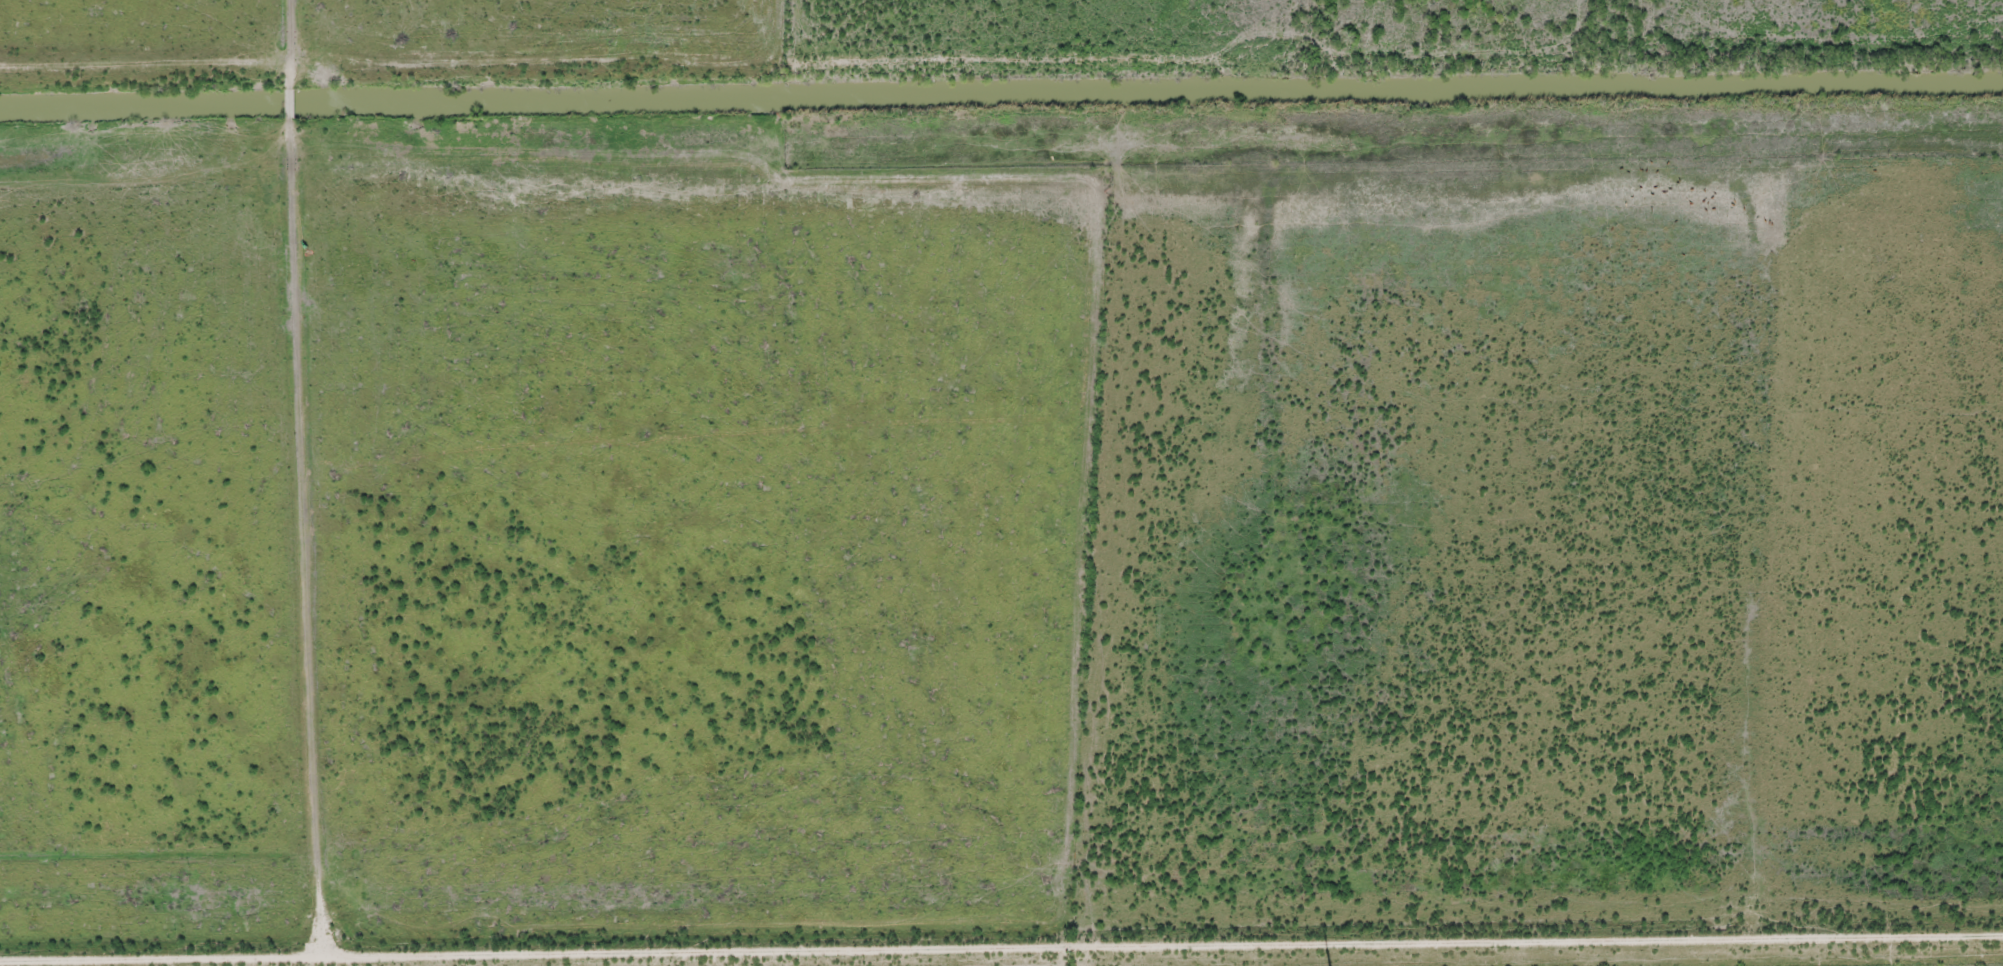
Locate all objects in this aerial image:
road: (1001, 947)

